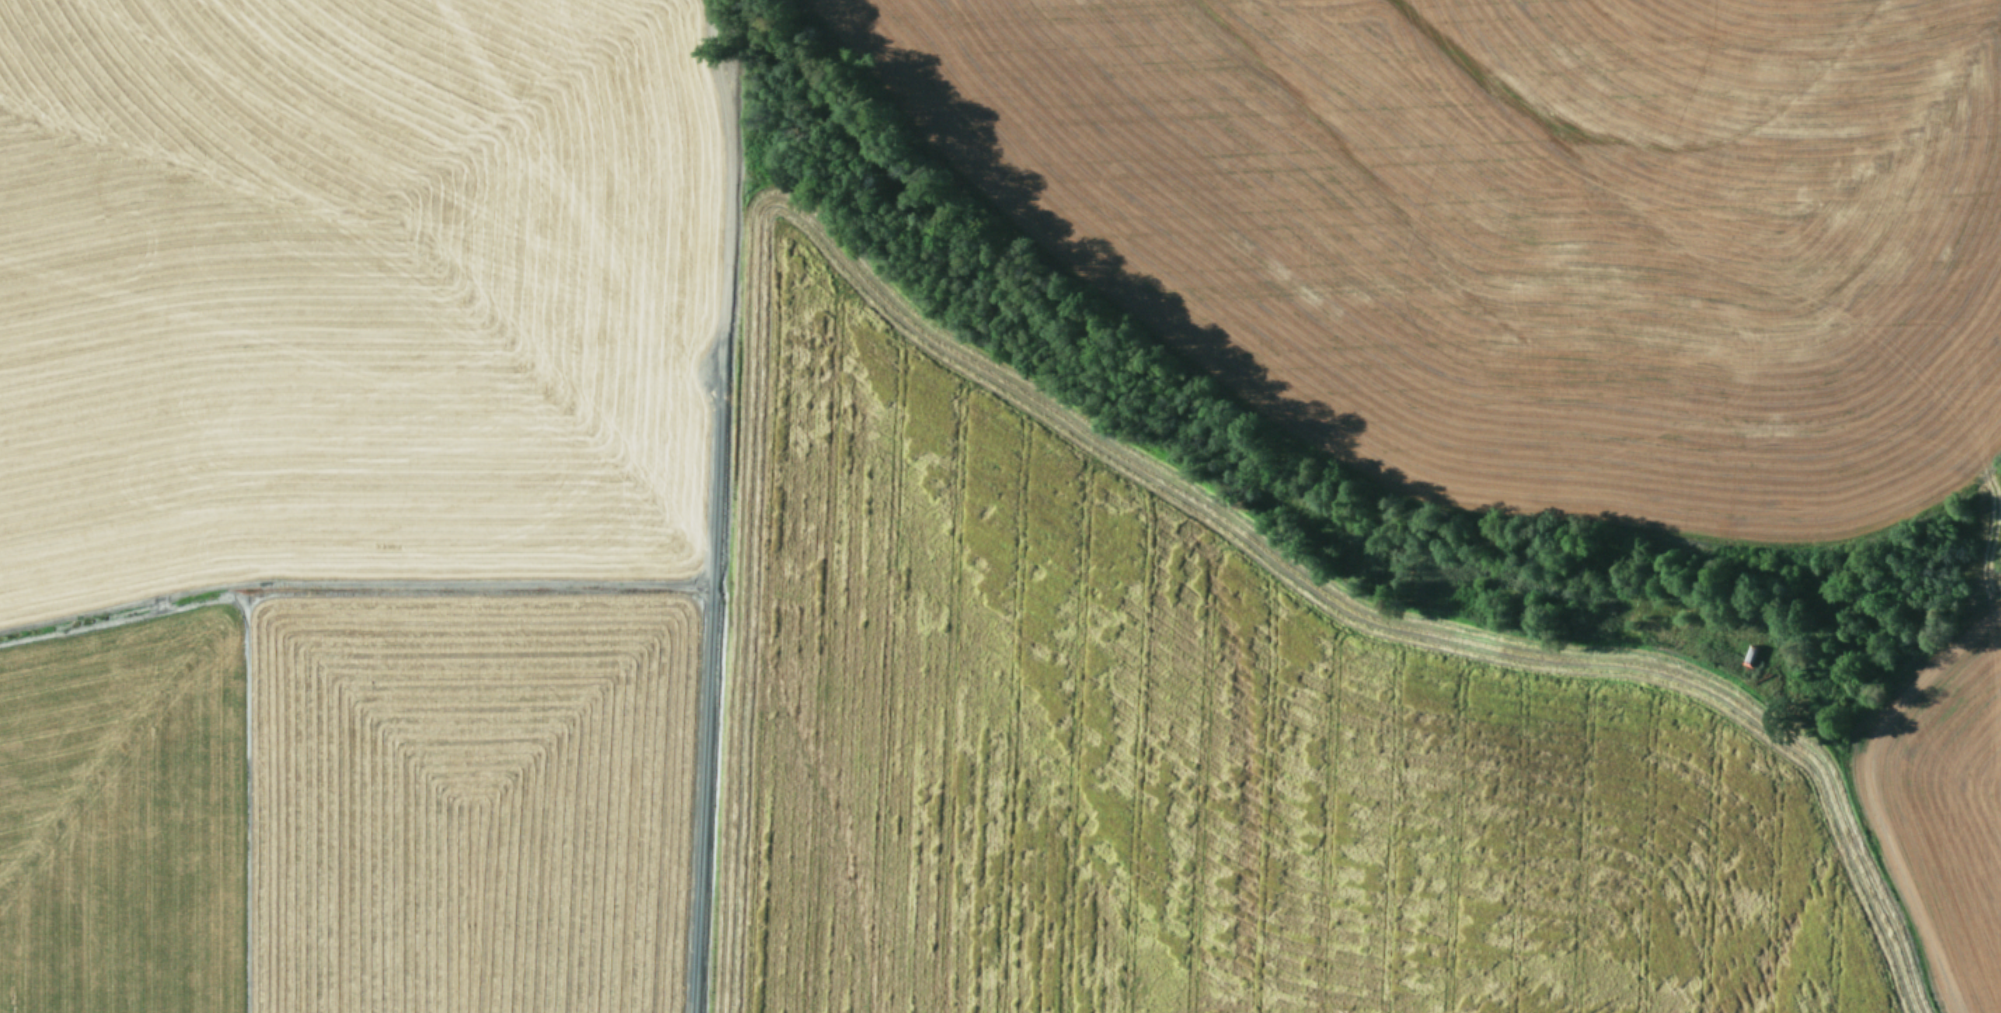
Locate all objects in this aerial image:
crop: (1000, 506)
road: (1323, 785)

